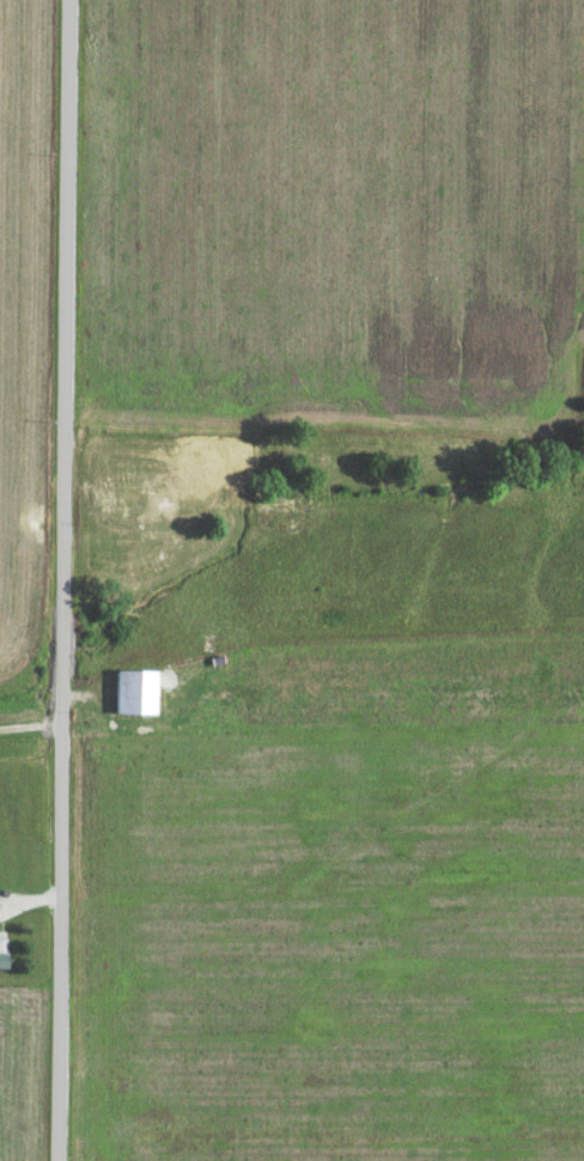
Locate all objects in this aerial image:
building: (117, 493)
road: (61, 579)
building: (127, 698)

